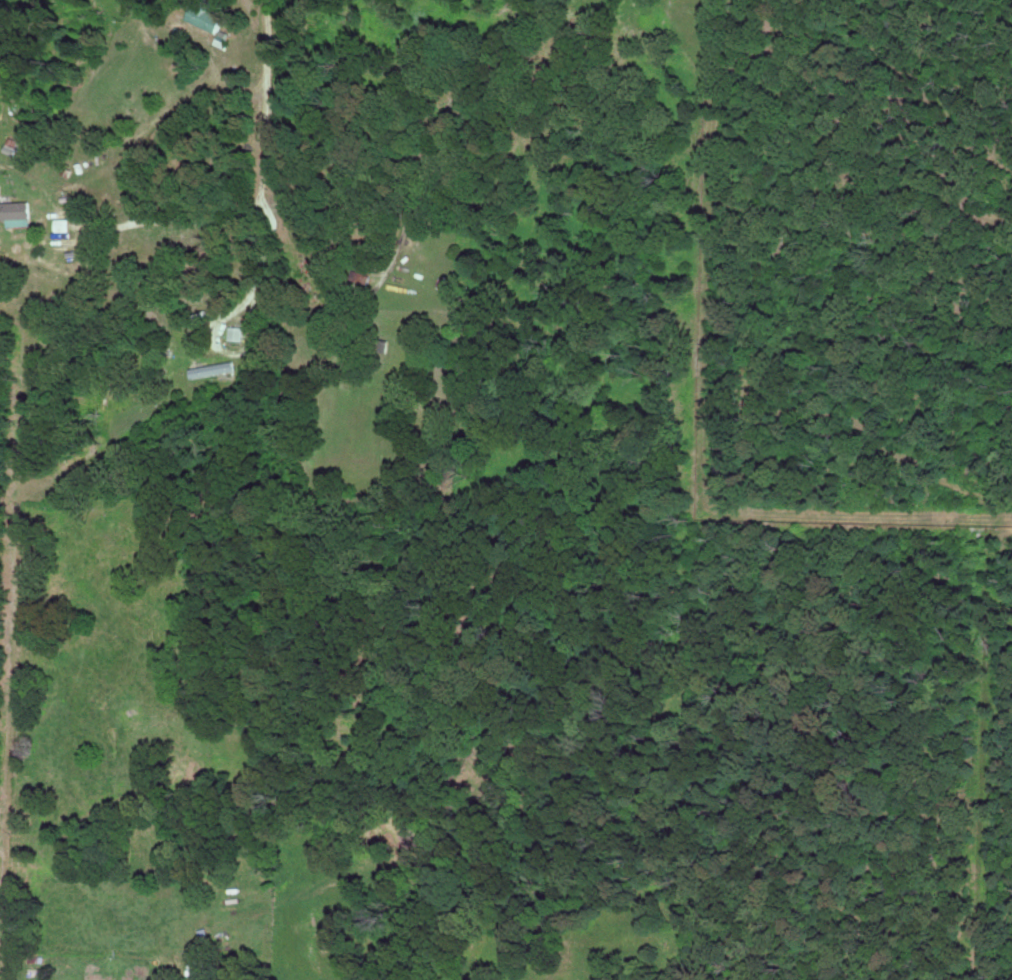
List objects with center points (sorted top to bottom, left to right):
building: (205, 16)
road: (169, 123)
road: (442, 137)
building: (16, 212)
road: (227, 231)
building: (235, 332)
building: (201, 968)

